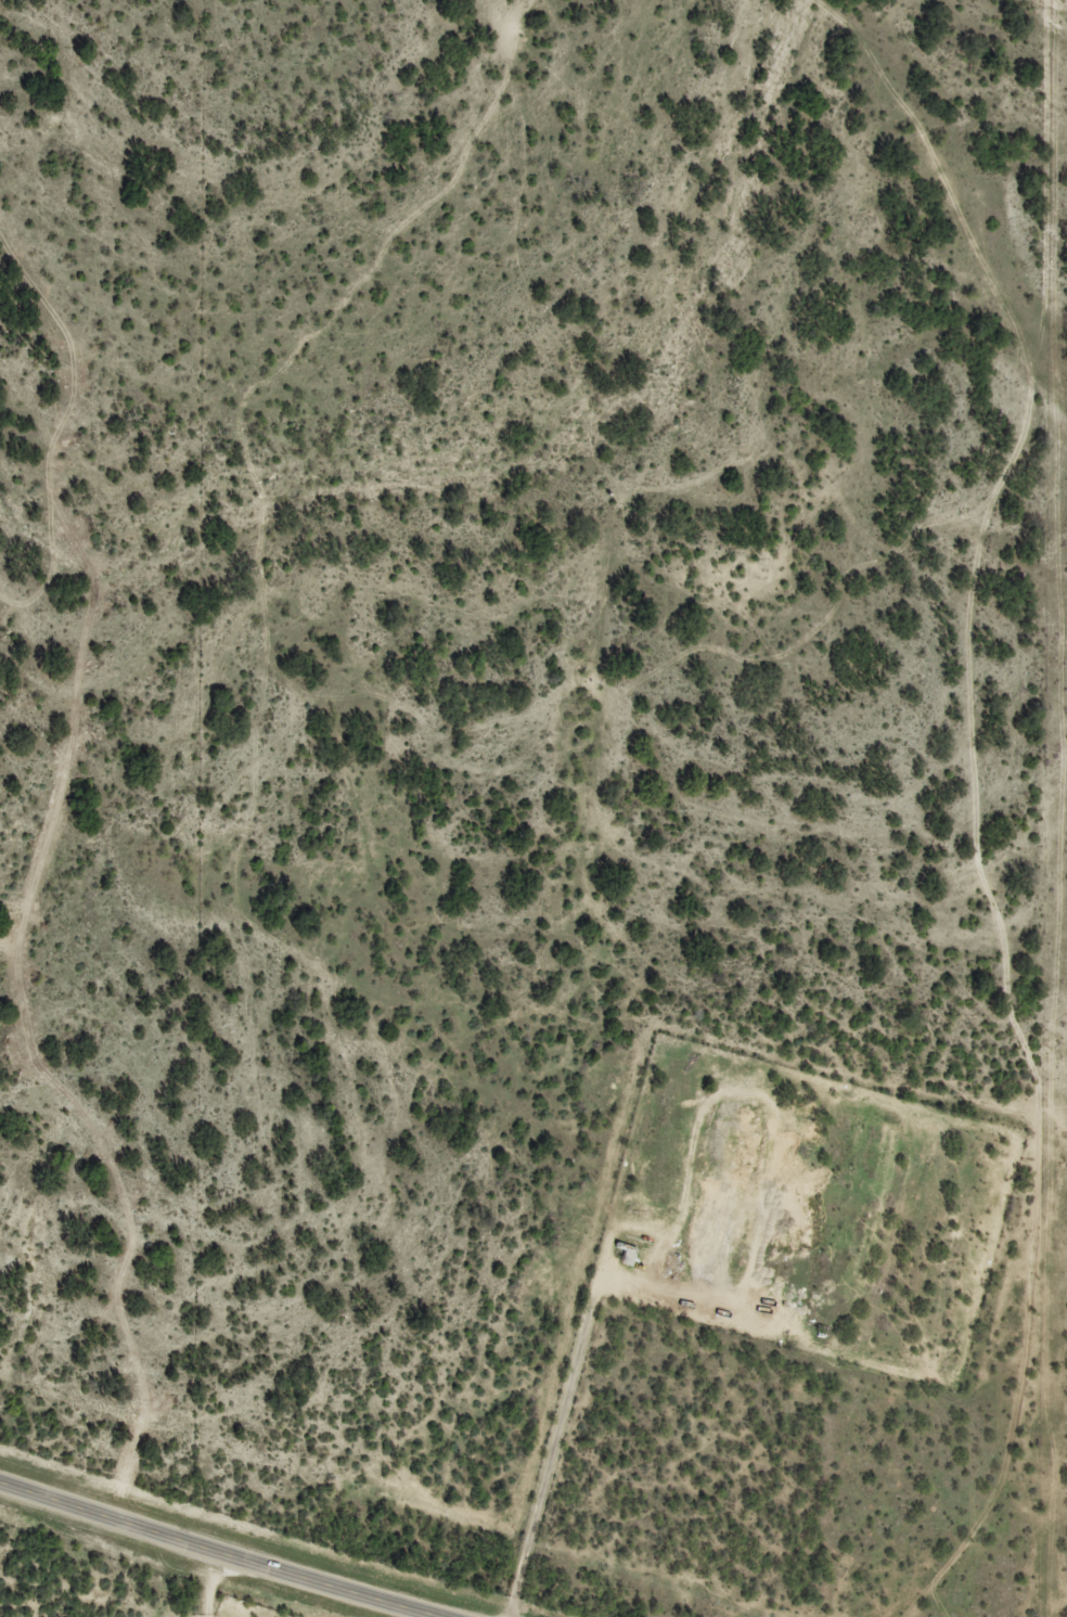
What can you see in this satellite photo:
road: (220, 1554)

